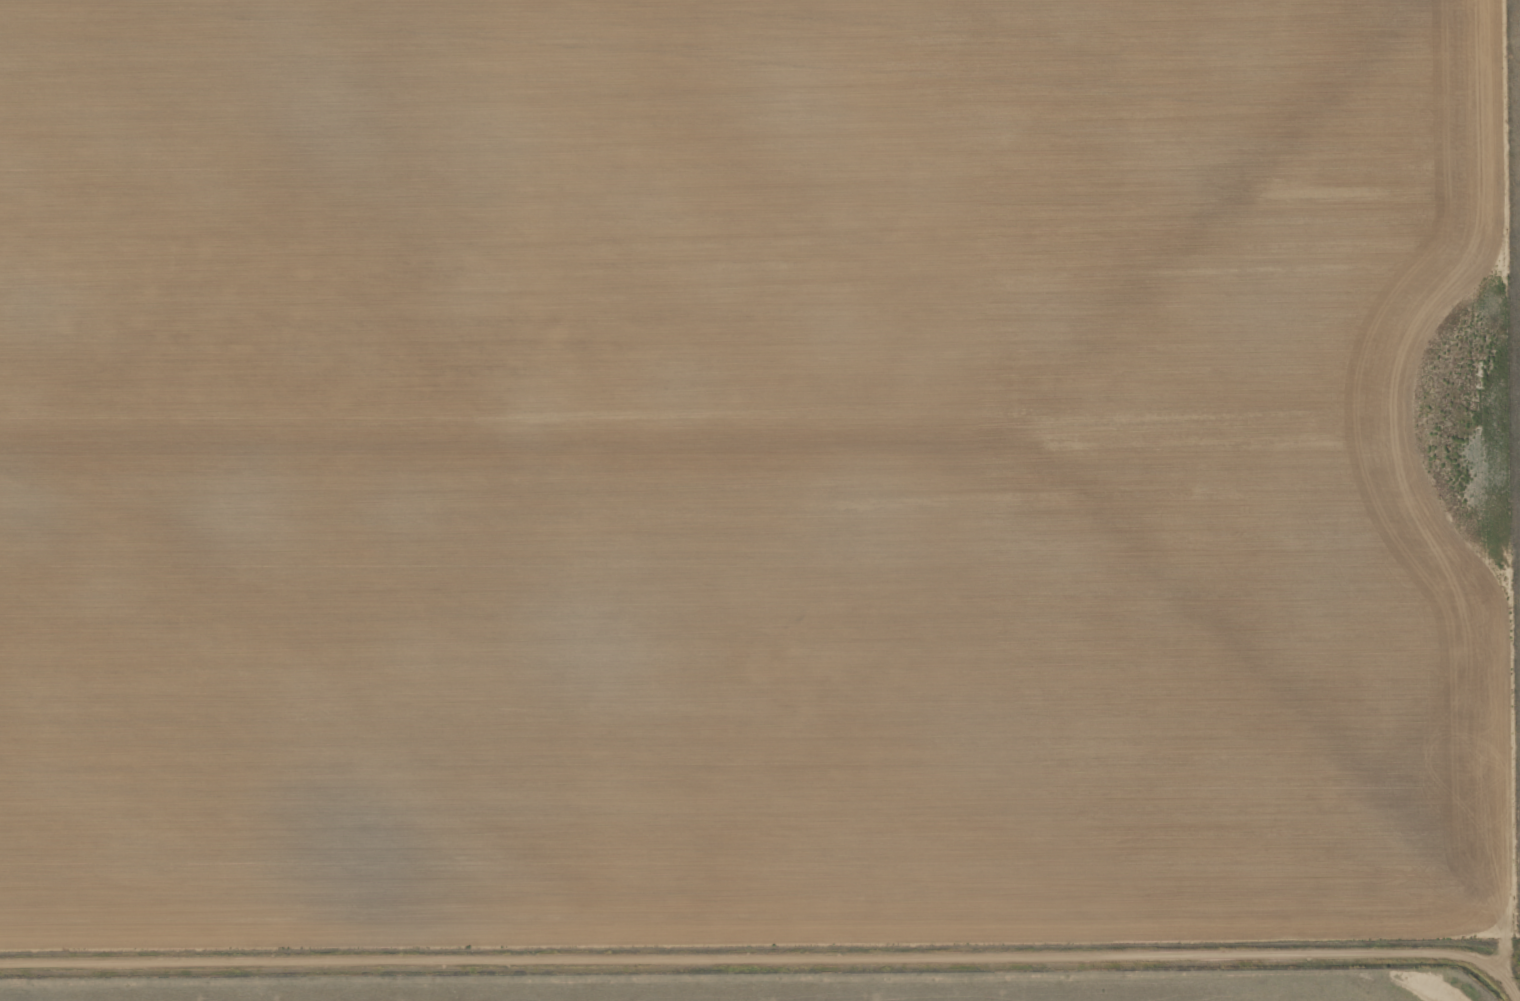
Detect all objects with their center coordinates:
road: (1501, 484)
road: (768, 958)

